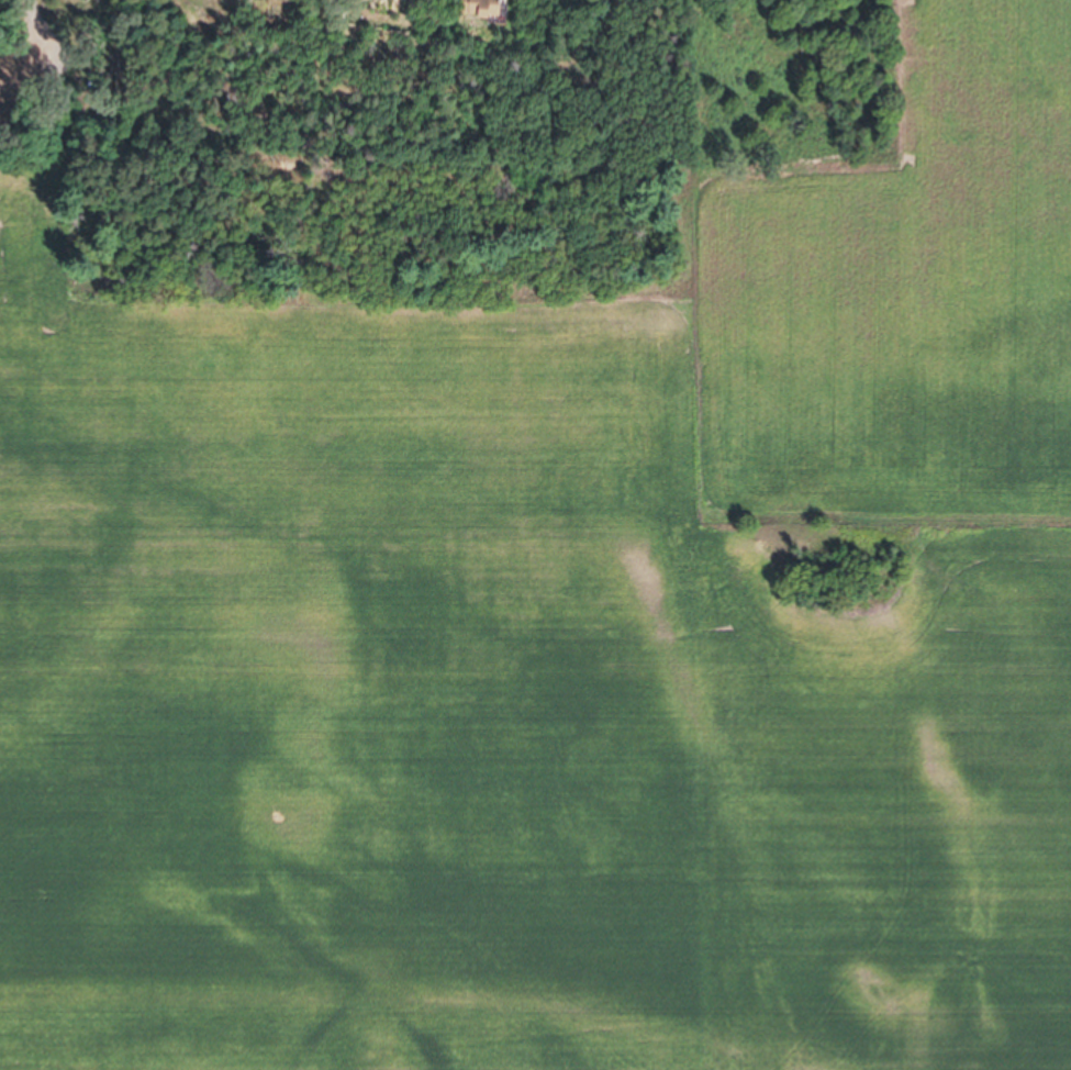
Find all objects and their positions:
building: (498, 10)
road: (24, 21)

